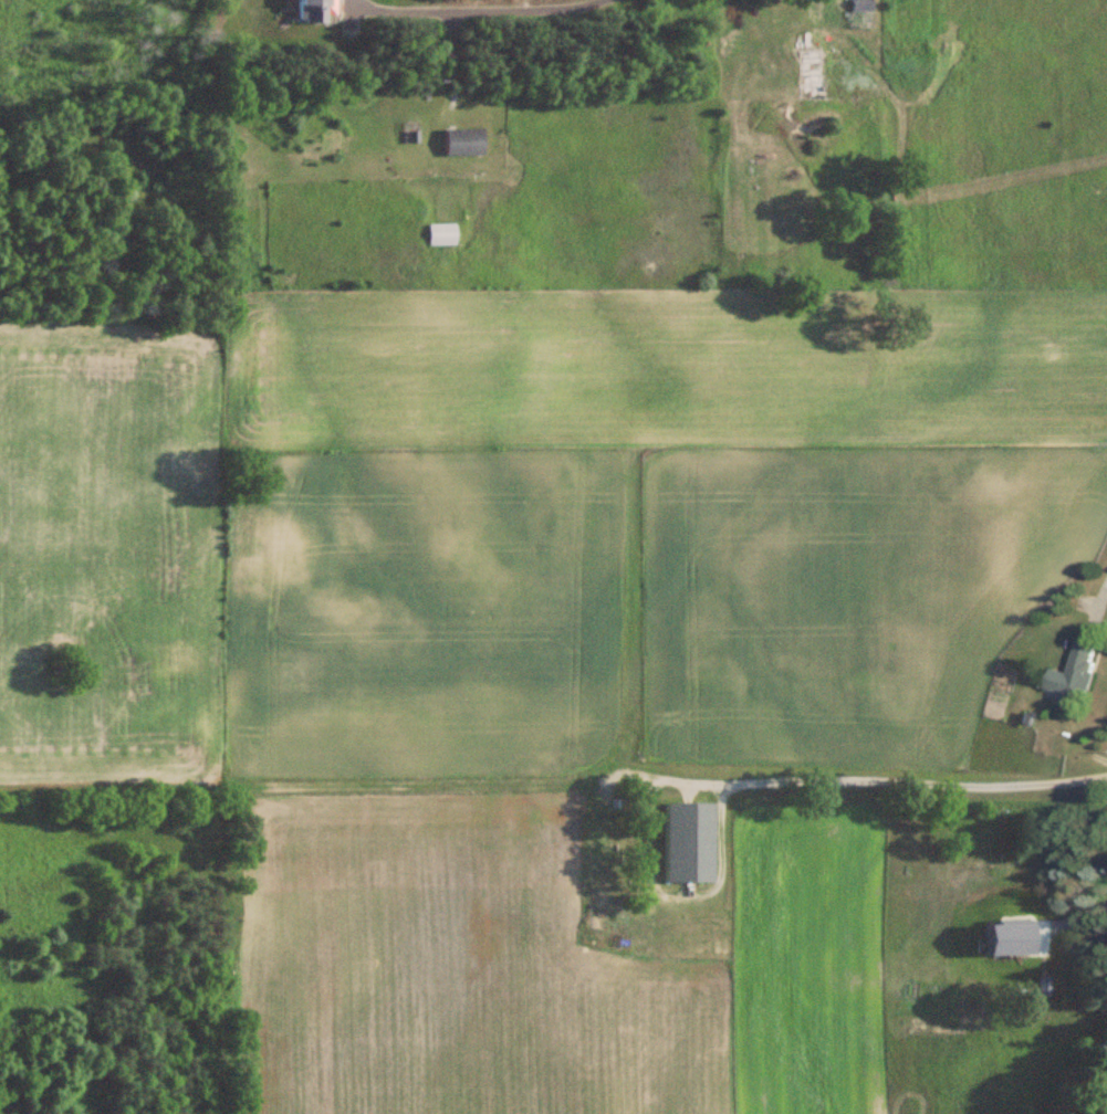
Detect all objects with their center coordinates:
road: (480, 10)
building: (314, 11)
building: (815, 76)
building: (466, 143)
building: (441, 234)
road: (1104, 591)
building: (1074, 673)
road: (897, 780)
building: (689, 841)
building: (495, 896)
building: (599, 914)
road: (1077, 917)
building: (572, 921)

